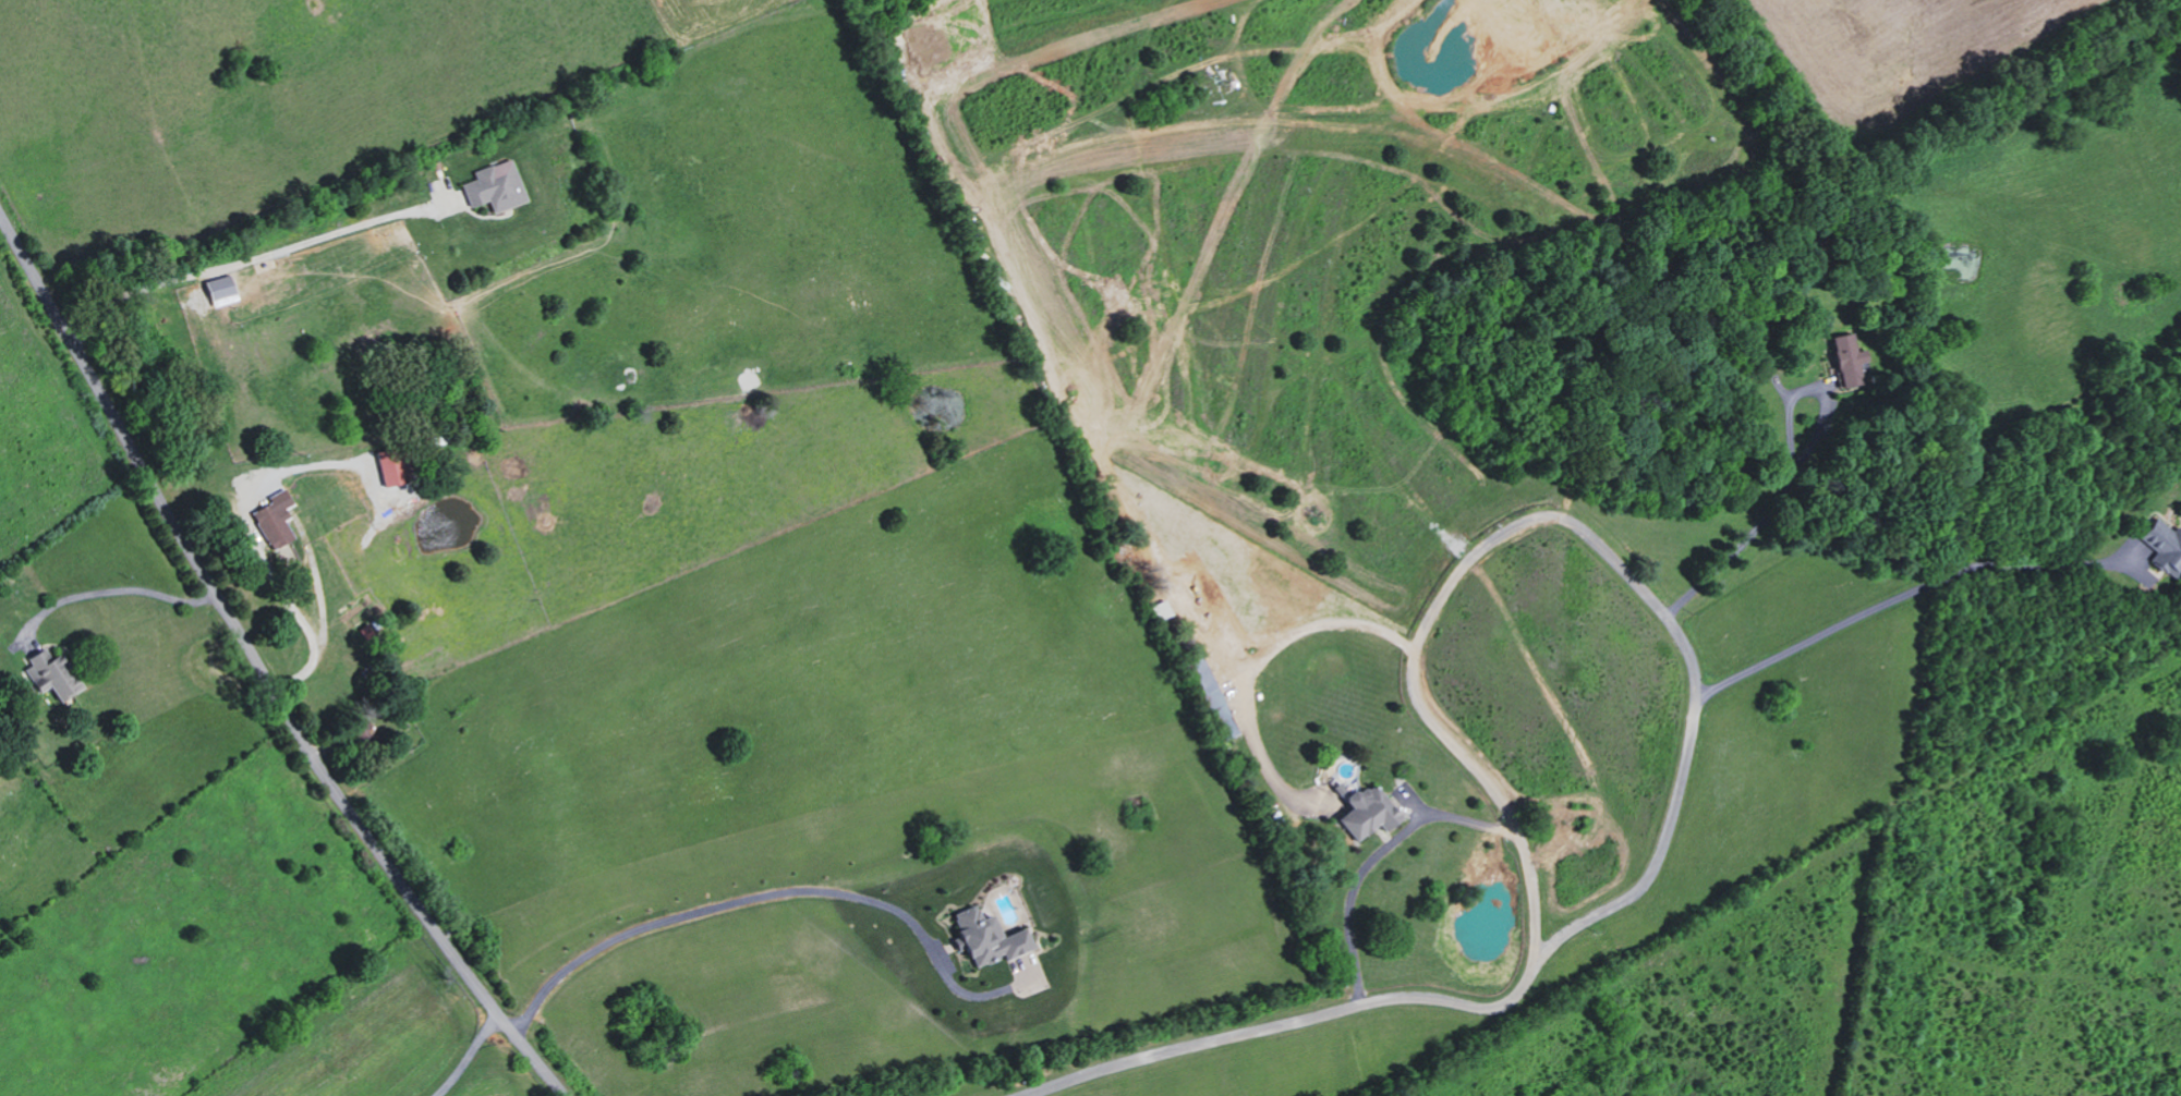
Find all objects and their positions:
building: (494, 185)
road: (256, 256)
building: (220, 289)
building: (1849, 352)
building: (391, 465)
road: (1793, 475)
building: (274, 519)
road: (1565, 521)
building: (2165, 544)
road: (110, 588)
road: (1903, 598)
building: (1163, 609)
road: (1261, 661)
road: (259, 668)
building: (49, 674)
building: (1214, 697)
building: (1366, 811)
road: (1373, 858)
road: (773, 893)
building: (989, 936)
road: (1281, 1027)
road: (470, 1055)

